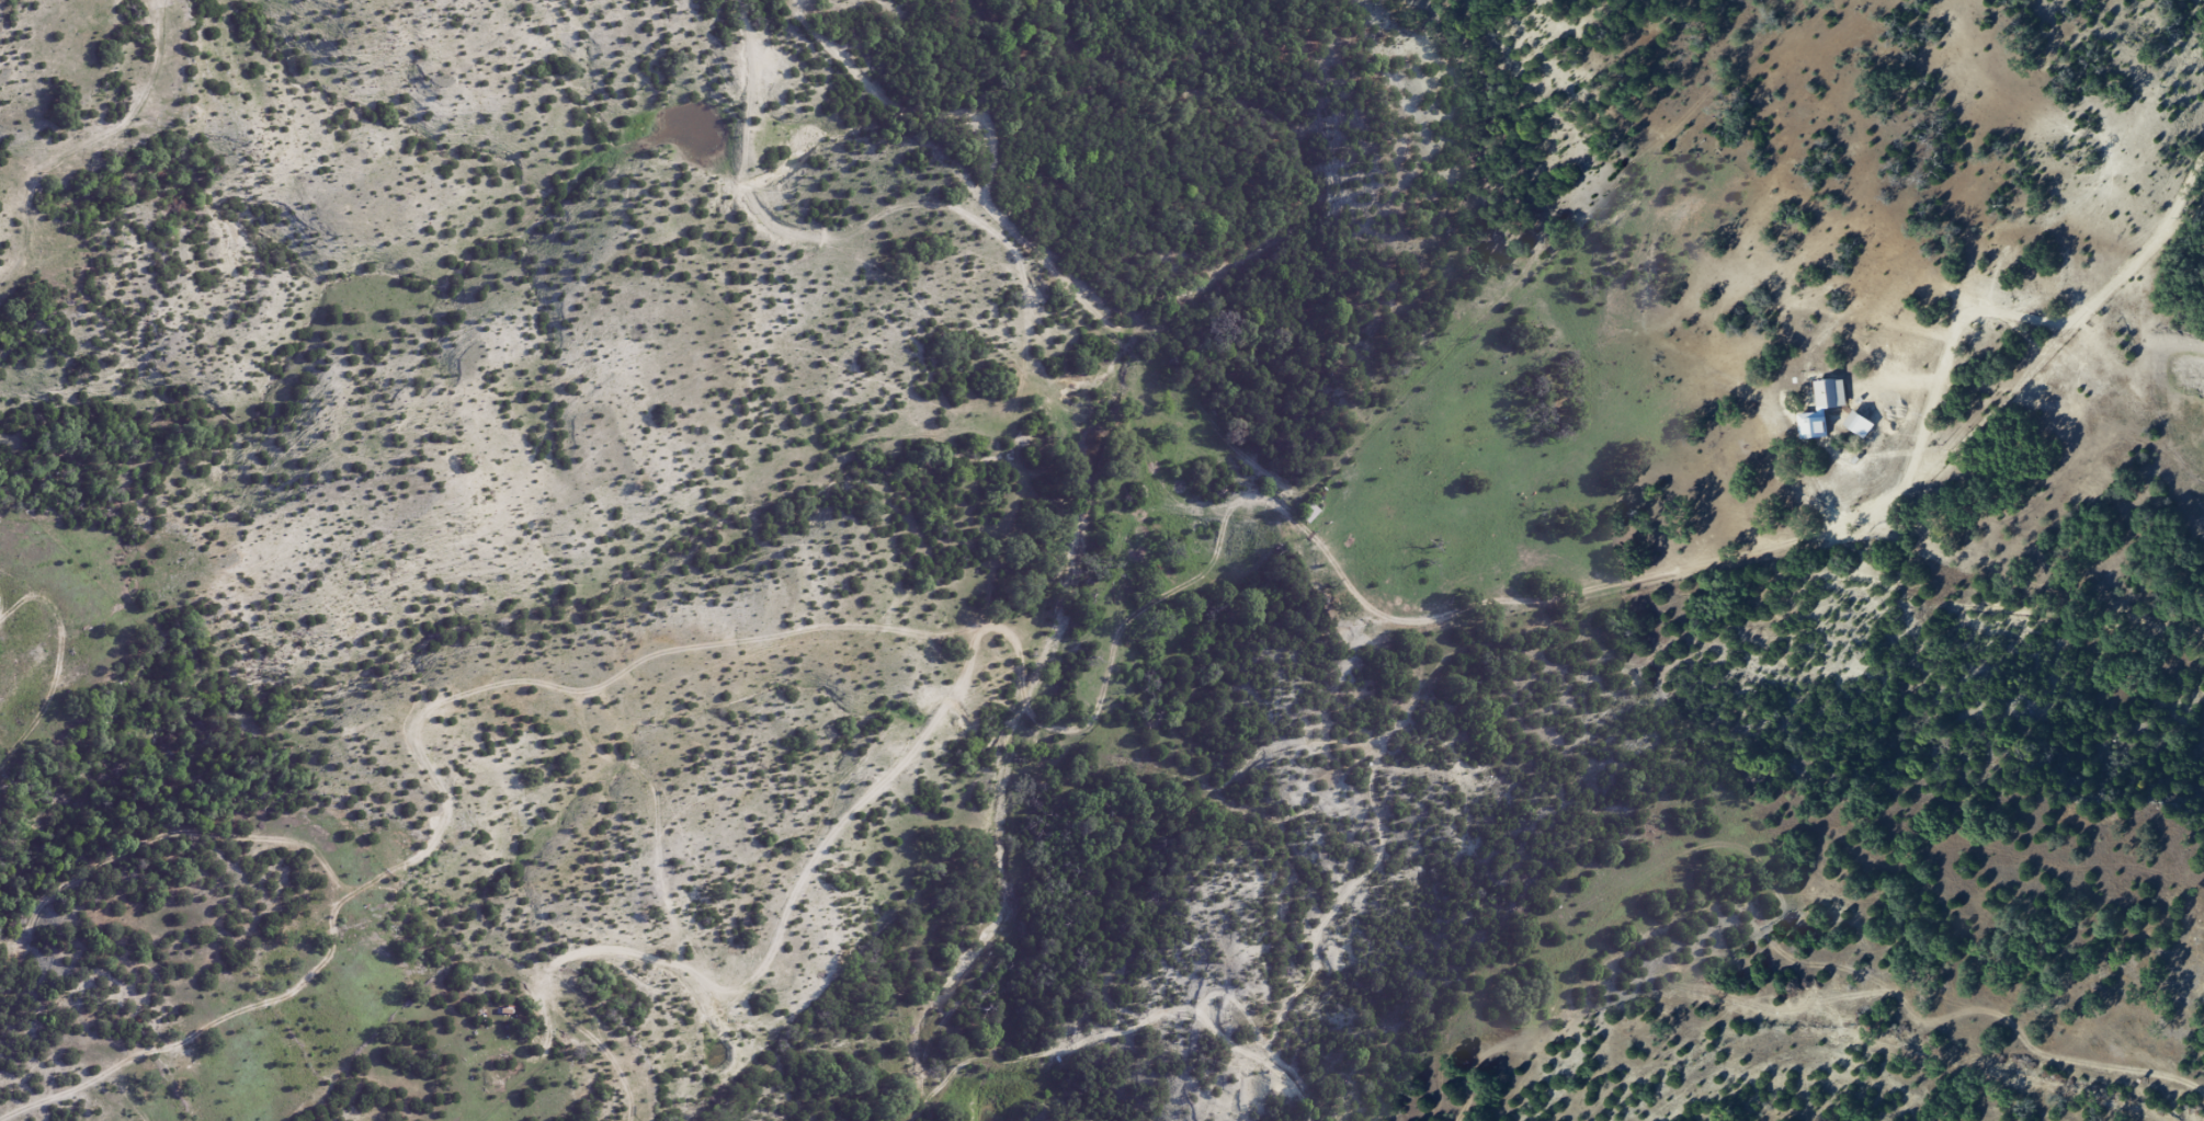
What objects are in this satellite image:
building: (1837, 394)
building: (1855, 422)

